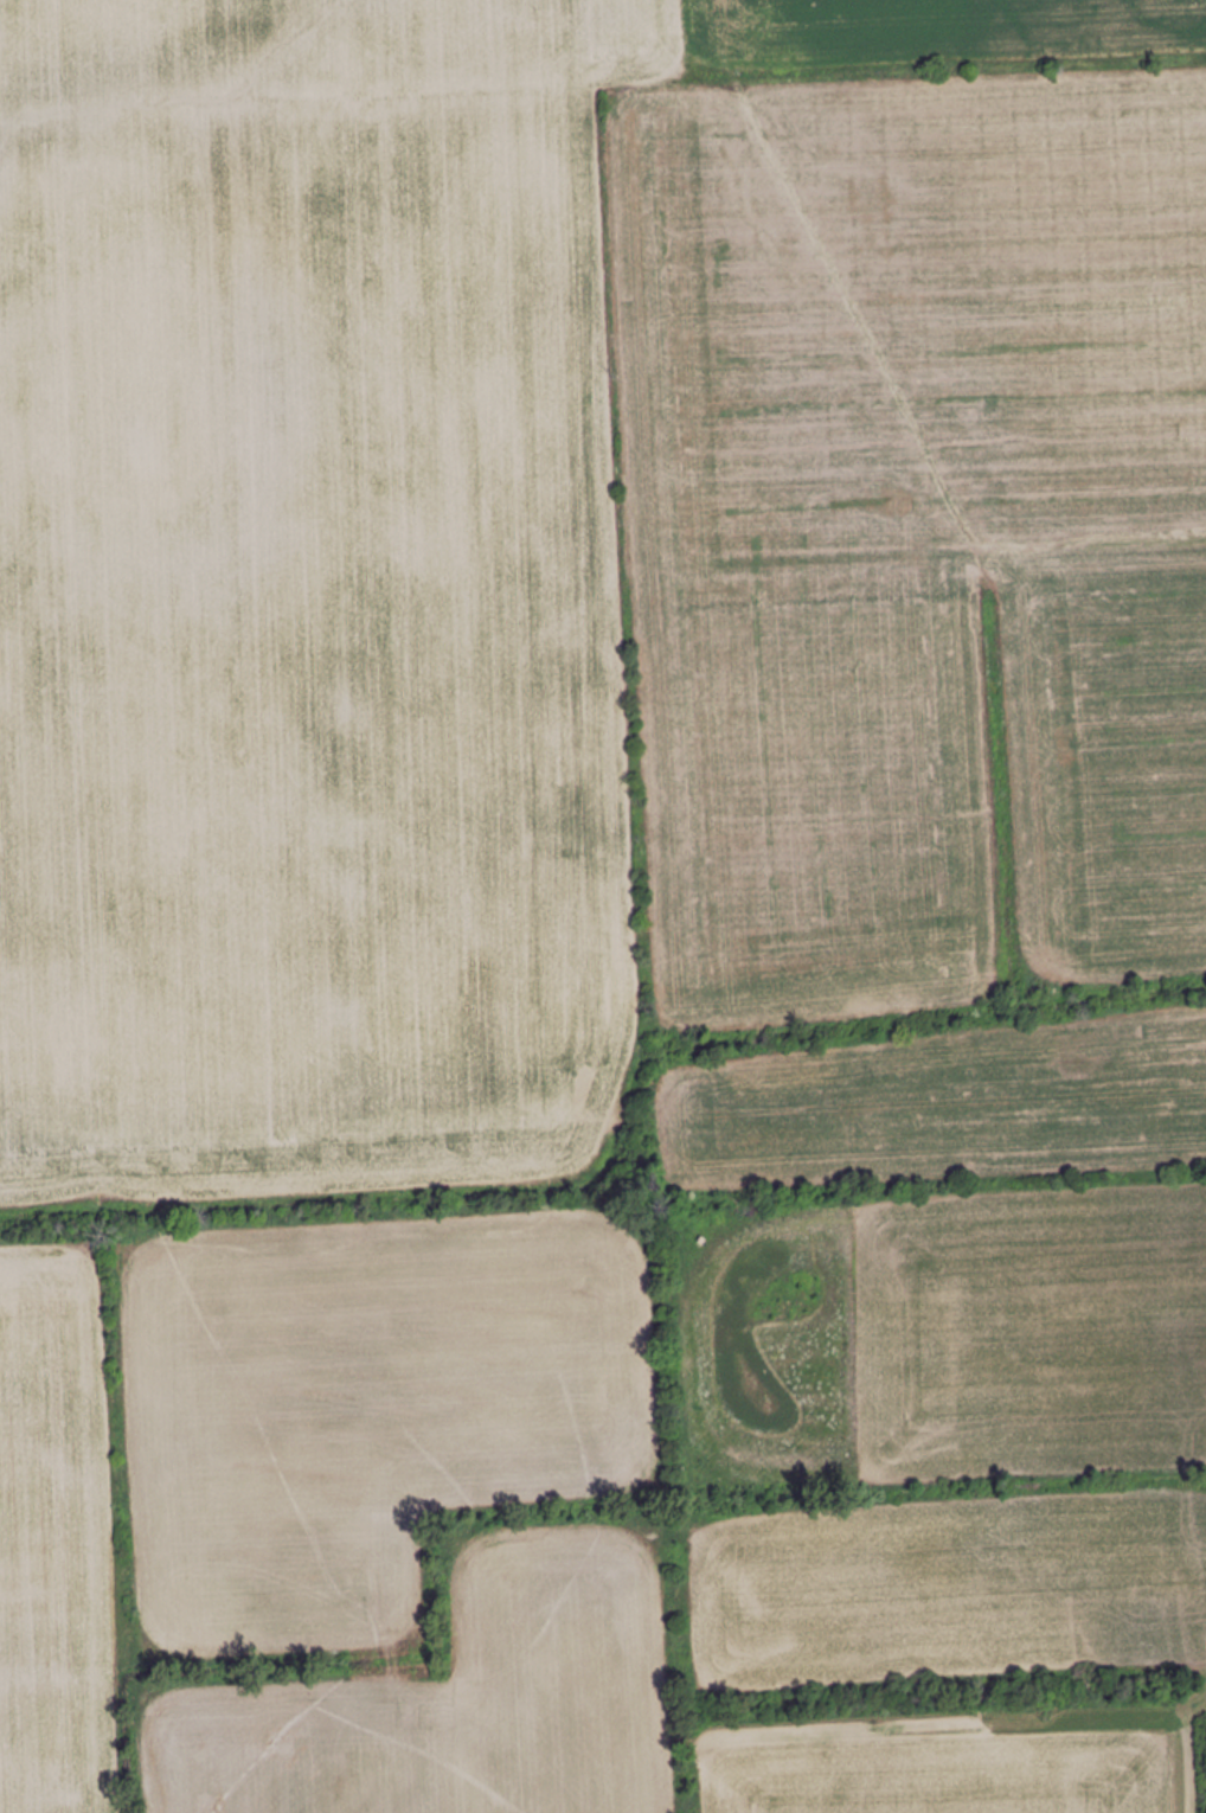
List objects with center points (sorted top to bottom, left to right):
crop: (1051, 376)
crop: (430, 588)

